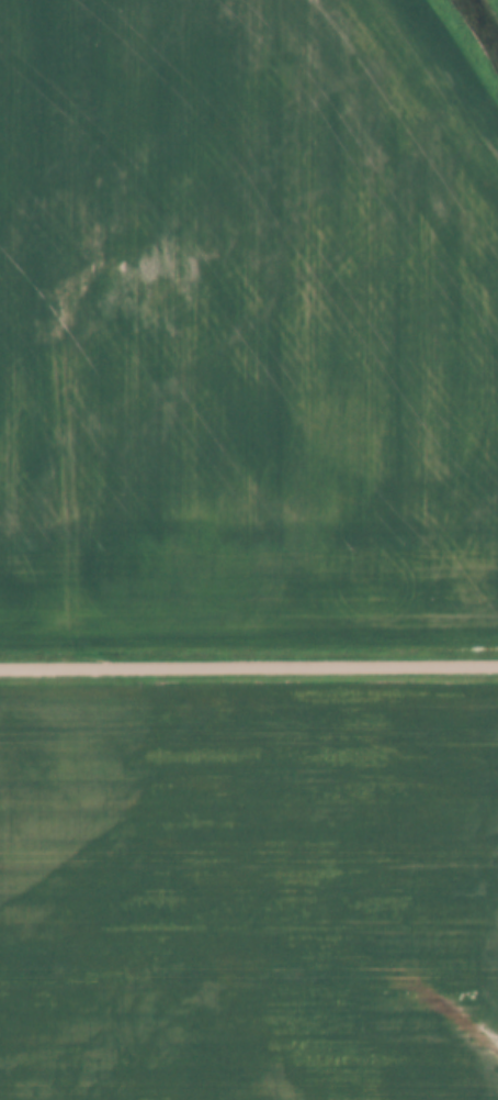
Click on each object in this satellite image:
road: (249, 663)

